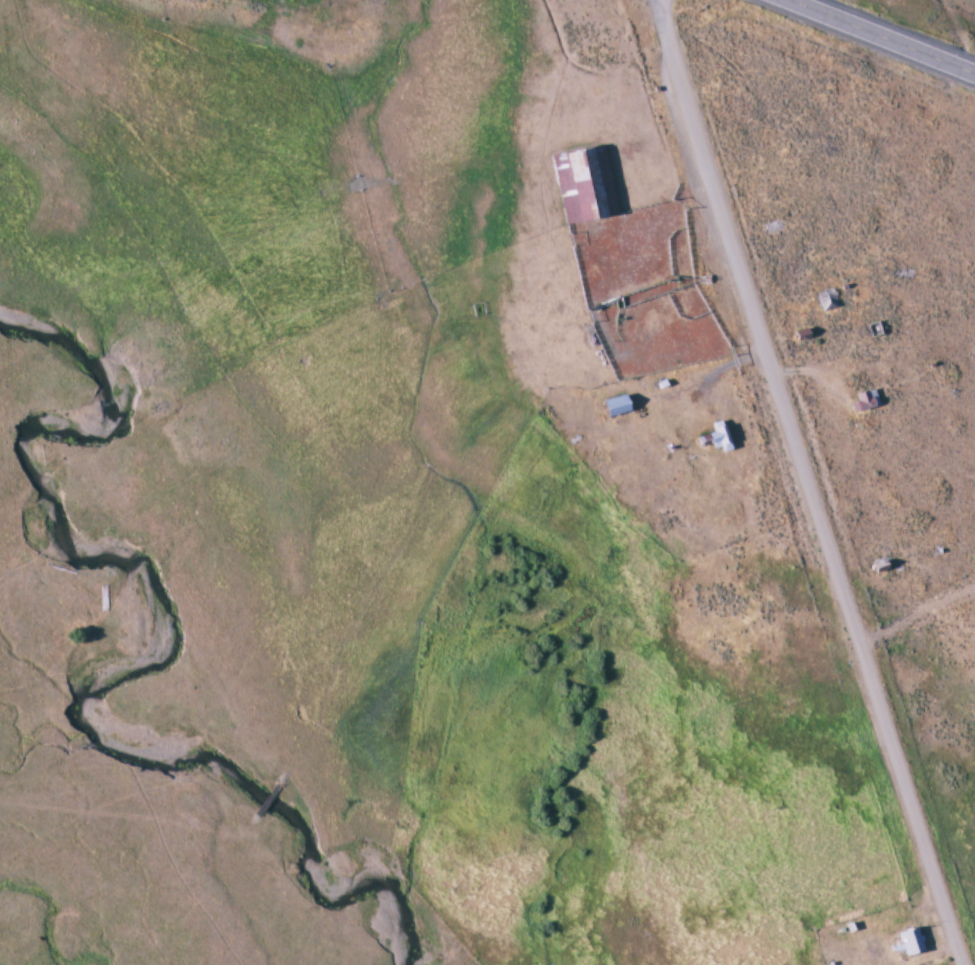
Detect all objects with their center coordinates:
road: (884, 36)
building: (582, 182)
building: (827, 300)
building: (865, 401)
road: (808, 483)
road: (917, 613)
building: (910, 940)

